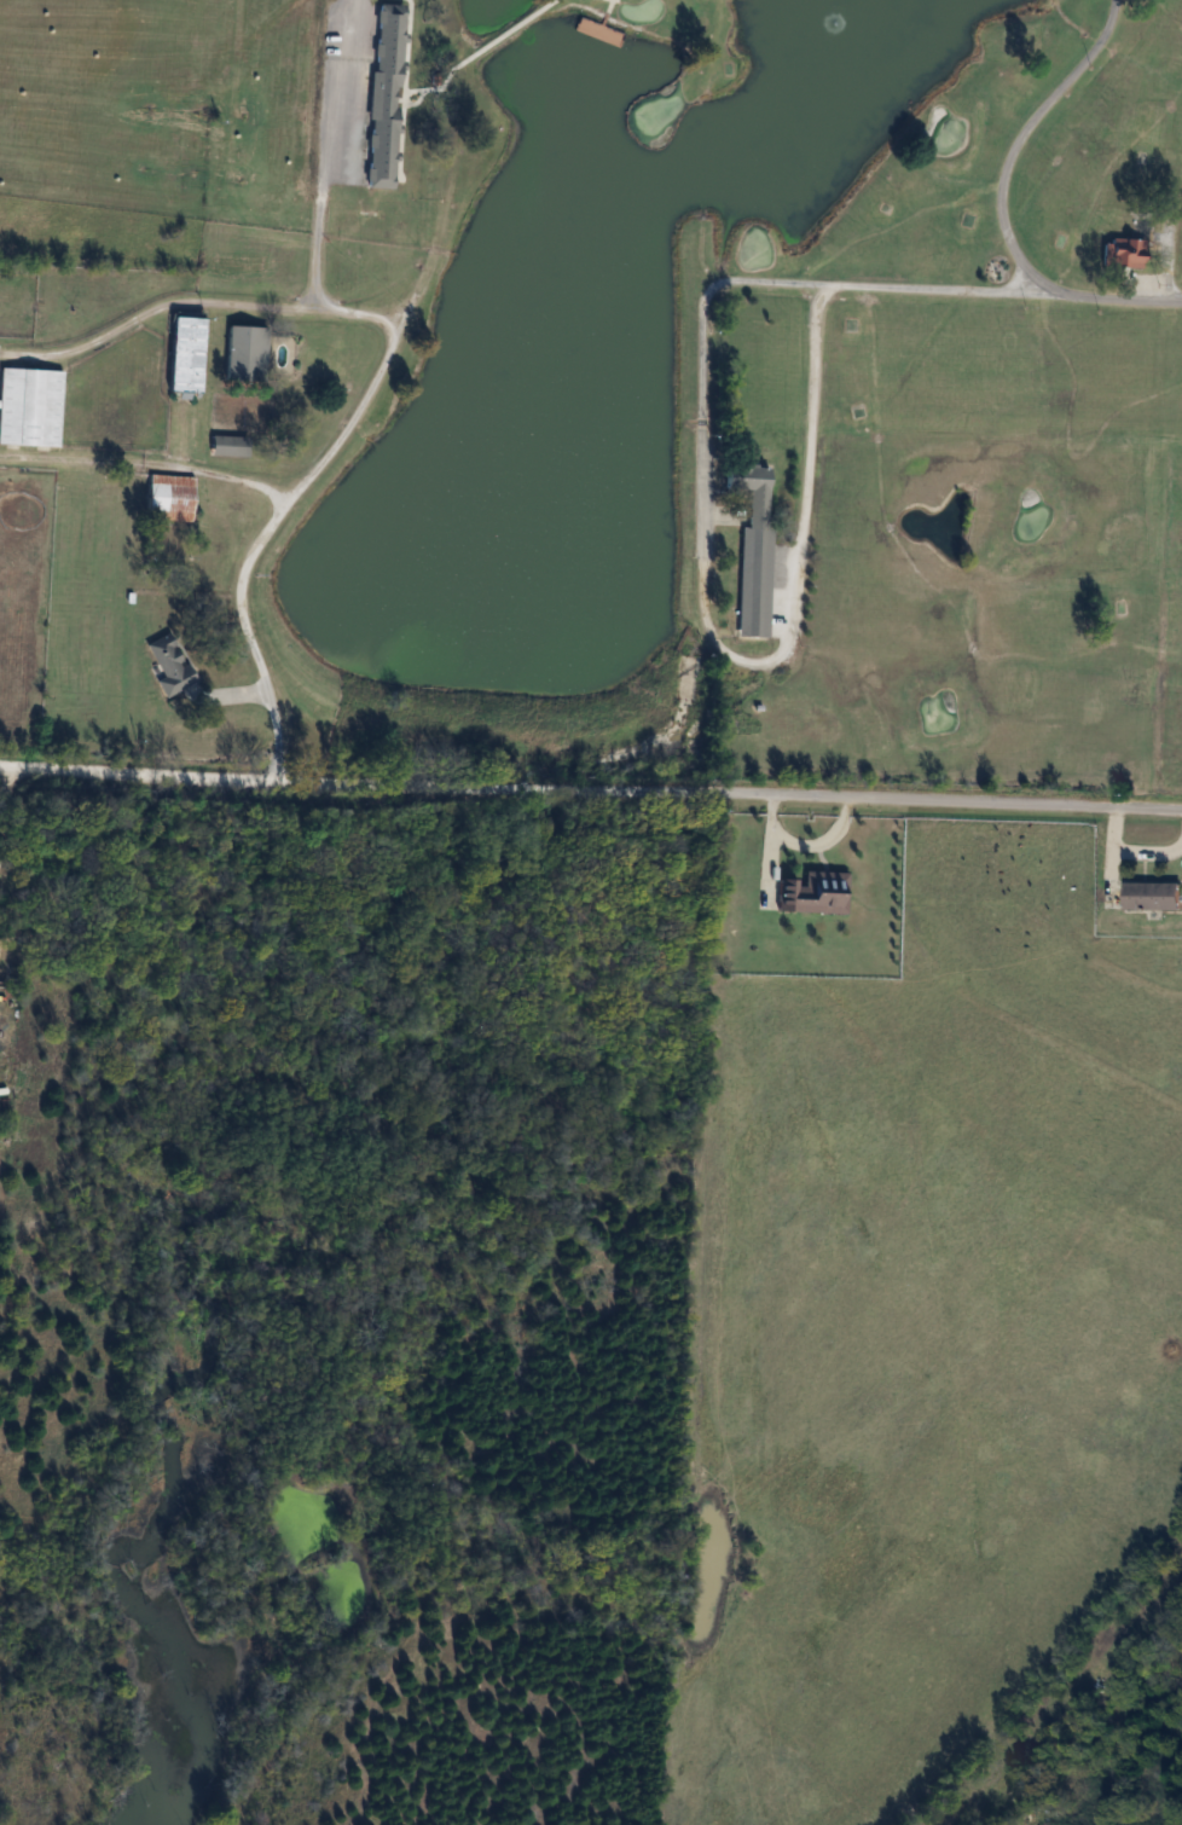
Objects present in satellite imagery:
building: (386, 97)
road: (1015, 145)
road: (324, 149)
building: (1124, 253)
road: (795, 283)
road: (196, 301)
building: (247, 353)
building: (186, 354)
building: (30, 407)
building: (230, 446)
road: (146, 467)
building: (170, 497)
road: (263, 534)
building: (754, 544)
building: (169, 665)
road: (11, 781)
road: (590, 788)
building: (815, 893)
building: (1152, 894)

